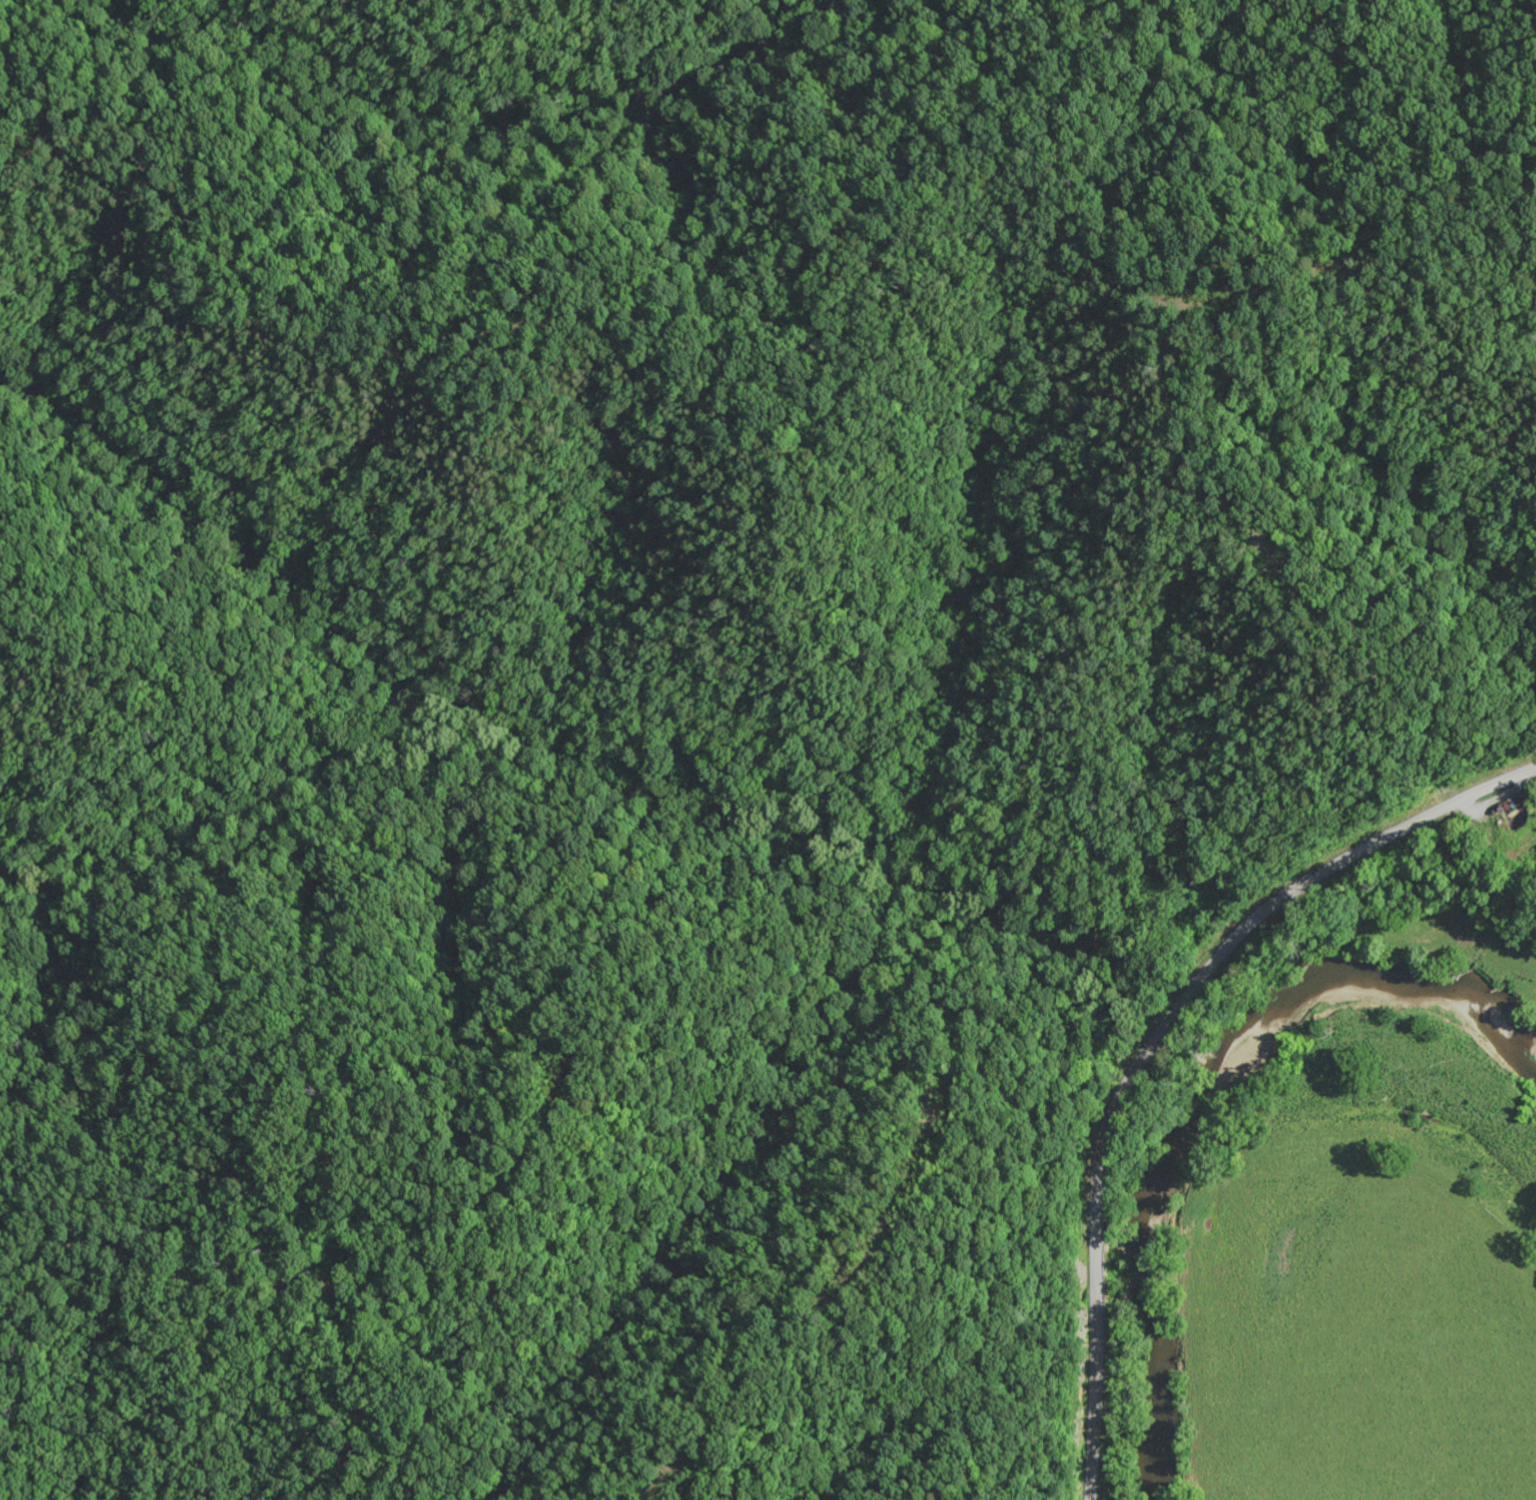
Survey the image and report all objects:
road: (1163, 1042)

